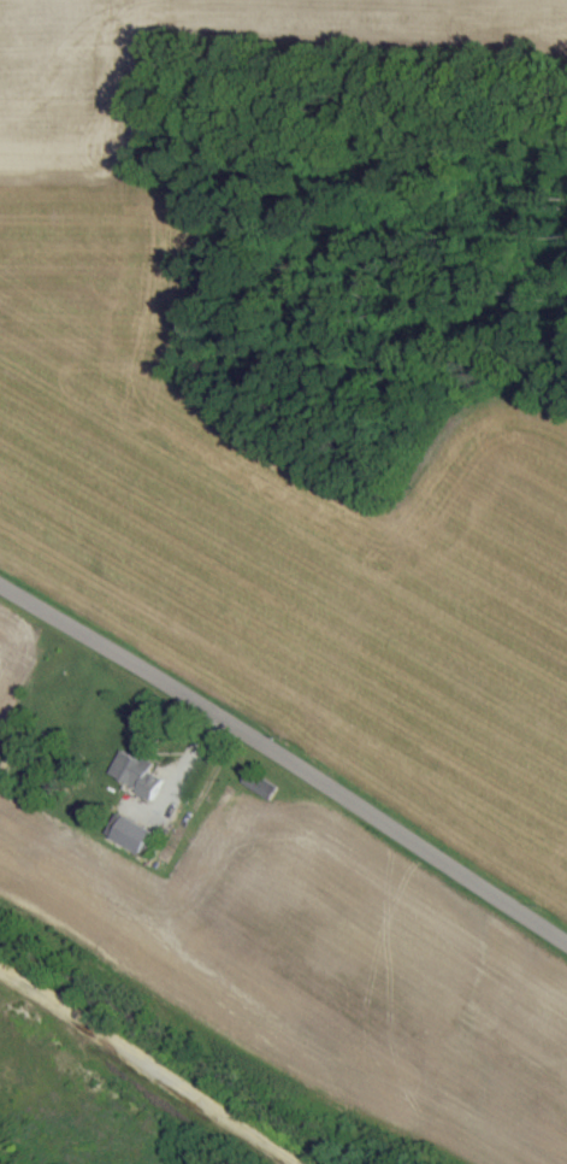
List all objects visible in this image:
building: (125, 768)
building: (252, 783)
road: (283, 784)
building: (123, 833)
quarry: (120, 1095)

